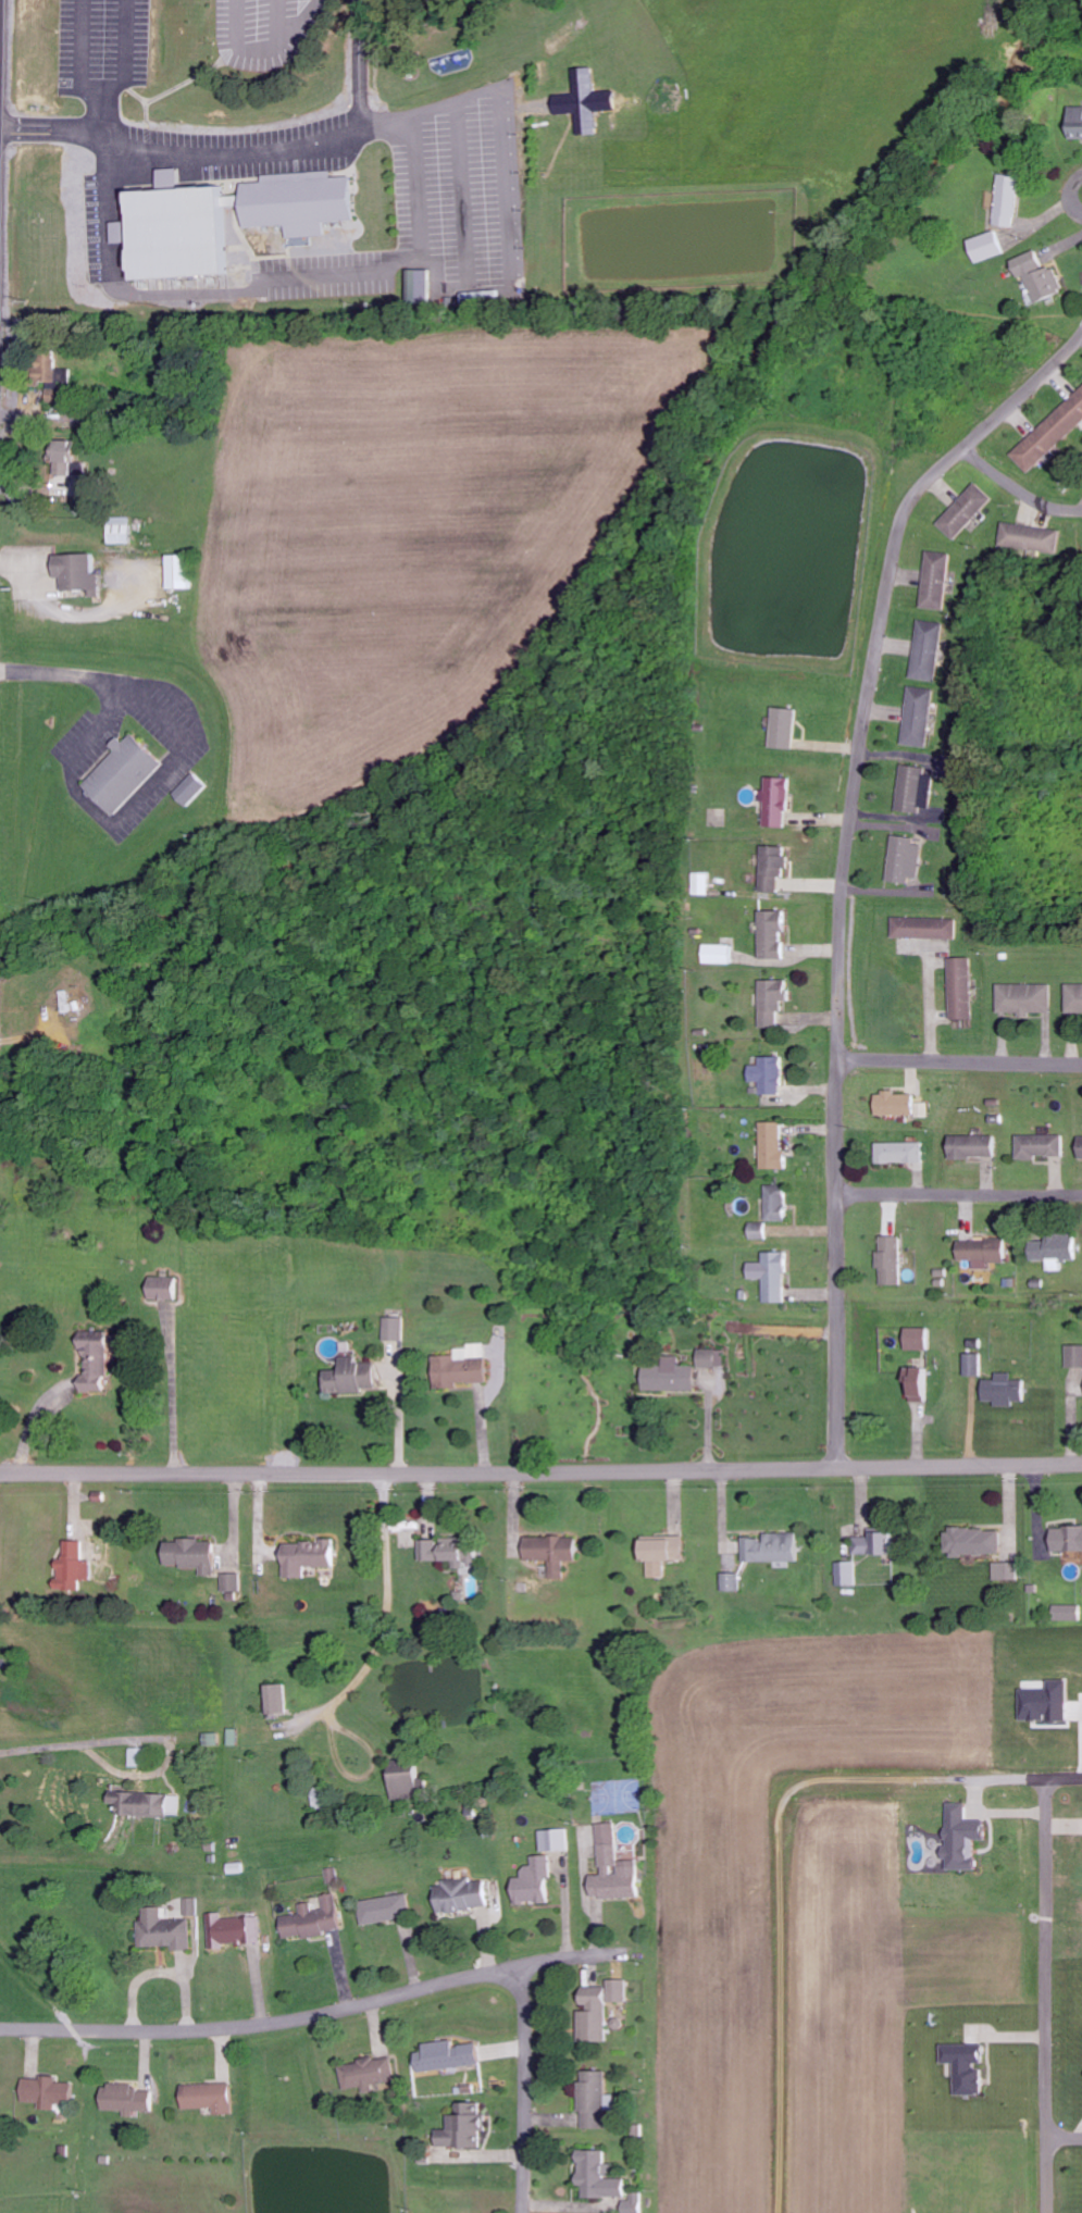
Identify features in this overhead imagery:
building: (590, 101)
building: (1074, 122)
road: (1079, 177)
building: (174, 179)
road: (1072, 197)
building: (1005, 201)
building: (308, 202)
building: (186, 233)
building: (984, 246)
building: (1035, 275)
building: (423, 287)
building: (64, 391)
building: (1049, 433)
building: (77, 471)
road: (1016, 489)
building: (963, 510)
building: (1029, 537)
building: (182, 572)
building: (84, 574)
building: (934, 581)
building: (925, 650)
road: (69, 675)
building: (918, 717)
building: (780, 728)
building: (125, 772)
building: (909, 788)
building: (196, 790)
building: (774, 803)
road: (122, 822)
building: (900, 860)
road: (842, 861)
building: (771, 868)
building: (701, 883)
building: (922, 928)
building: (769, 935)
building: (718, 954)
building: (958, 989)
building: (1022, 998)
building: (1073, 998)
building: (770, 1000)
road: (958, 1060)
building: (766, 1076)
building: (893, 1104)
building: (771, 1144)
building: (1037, 1145)
building: (969, 1146)
building: (1079, 1147)
building: (898, 1152)
road: (958, 1194)
building: (774, 1202)
building: (757, 1230)
building: (1053, 1251)
building: (980, 1252)
building: (887, 1260)
building: (768, 1275)
building: (165, 1289)
building: (395, 1330)
building: (913, 1338)
building: (1073, 1356)
building: (710, 1357)
building: (99, 1362)
building: (971, 1365)
building: (668, 1376)
building: (353, 1377)
building: (917, 1383)
building: (1002, 1390)
road: (540, 1474)
building: (1067, 1540)
building: (972, 1541)
building: (873, 1543)
building: (774, 1547)
building: (660, 1549)
building: (453, 1551)
building: (557, 1552)
building: (194, 1555)
building: (311, 1557)
building: (75, 1567)
building: (1006, 1570)
building: (846, 1574)
building: (731, 1581)
building: (232, 1583)
building: (1067, 1612)
building: (281, 1699)
building: (1045, 1702)
building: (140, 1756)
road: (1054, 1776)
building: (413, 1782)
building: (152, 1803)
building: (959, 1838)
building: (558, 1840)
building: (617, 1869)
road: (776, 1881)
building: (535, 1883)
building: (465, 1895)
building: (194, 1906)
building: (389, 1910)
building: (316, 1919)
building: (237, 1930)
building: (167, 1931)
road: (1046, 1994)
road: (372, 2003)
building: (602, 2009)
building: (474, 2052)
building: (963, 2067)
building: (371, 2075)
building: (52, 2093)
building: (212, 2098)
building: (129, 2100)
building: (597, 2100)
building: (467, 2128)
road: (1064, 2137)
building: (604, 2176)
building: (637, 2204)

